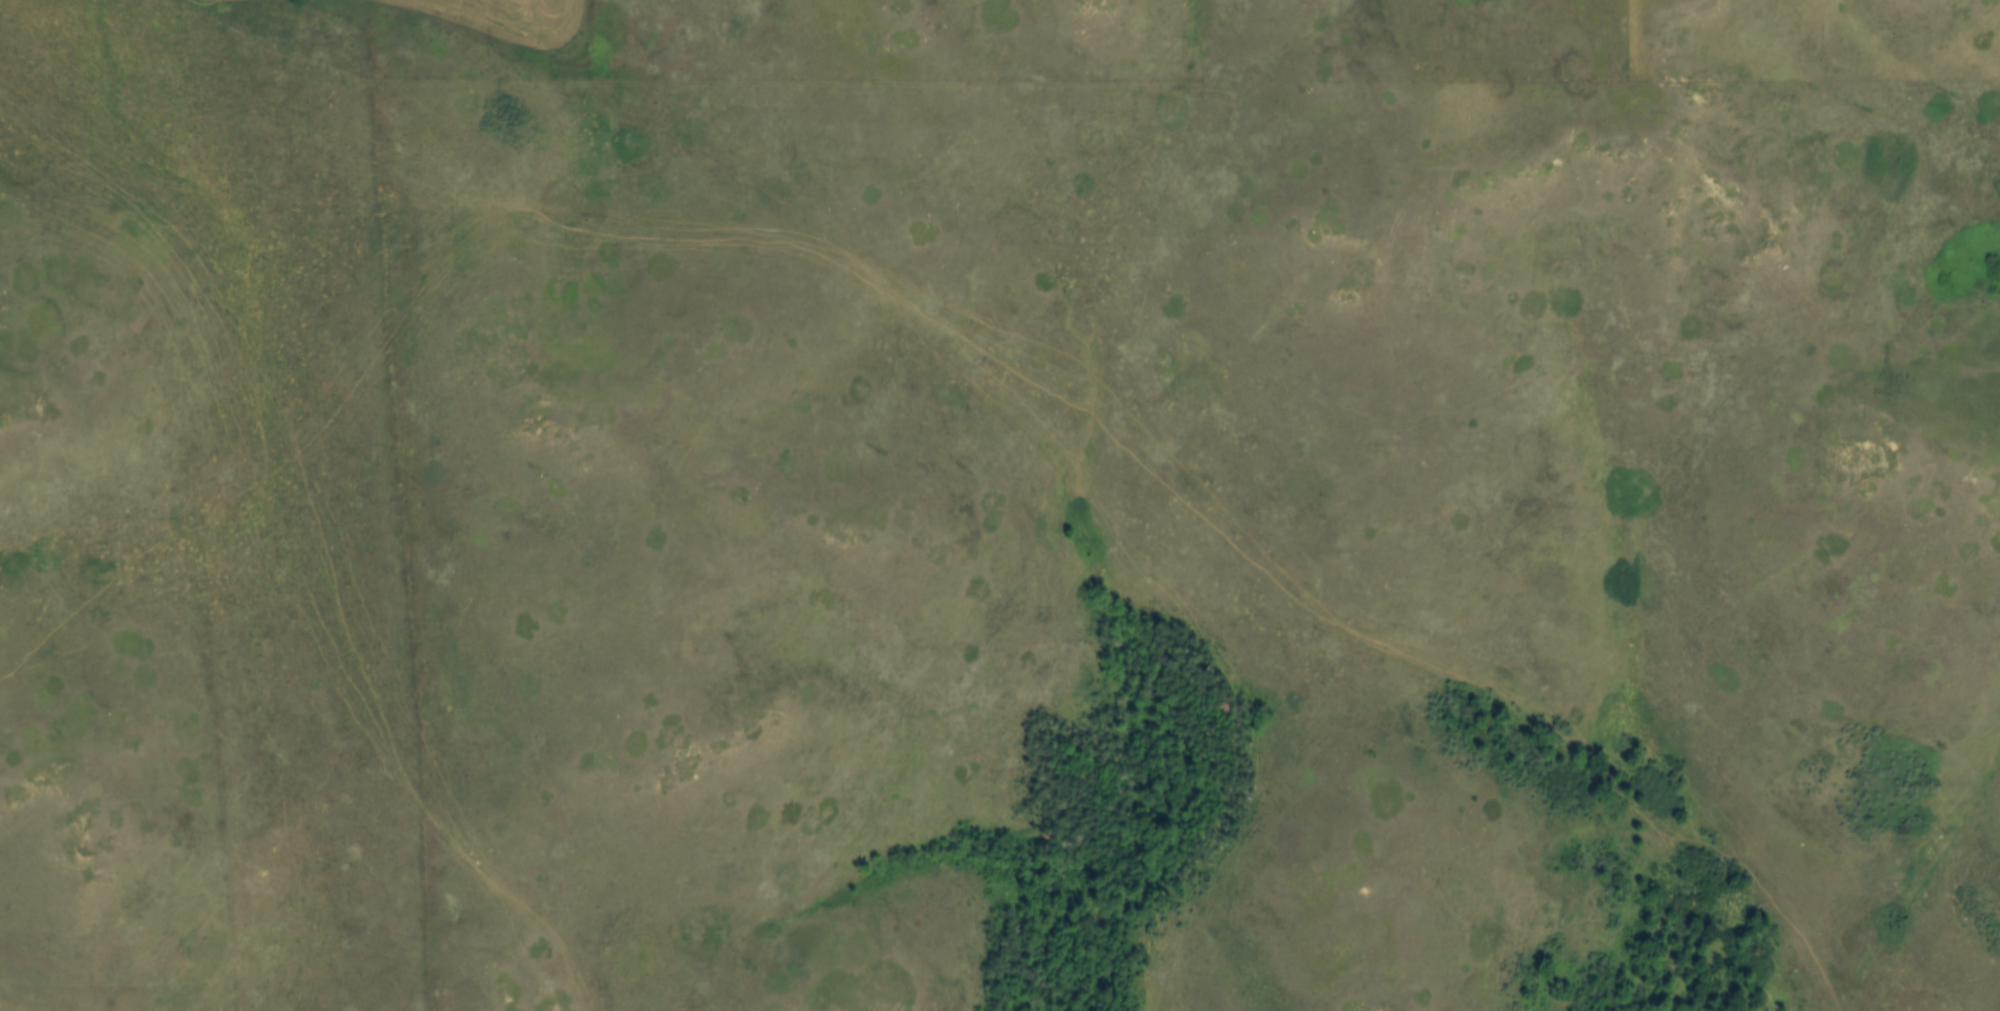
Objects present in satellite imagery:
road: (1637, 54)

